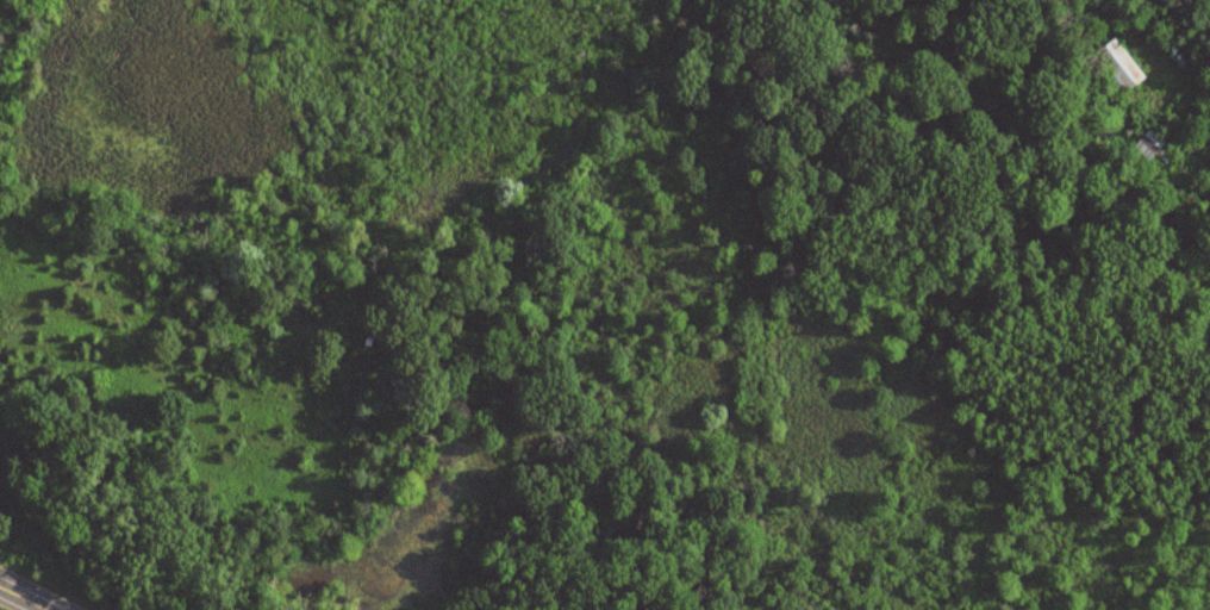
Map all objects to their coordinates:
building: (1115, 73)
road: (23, 597)

